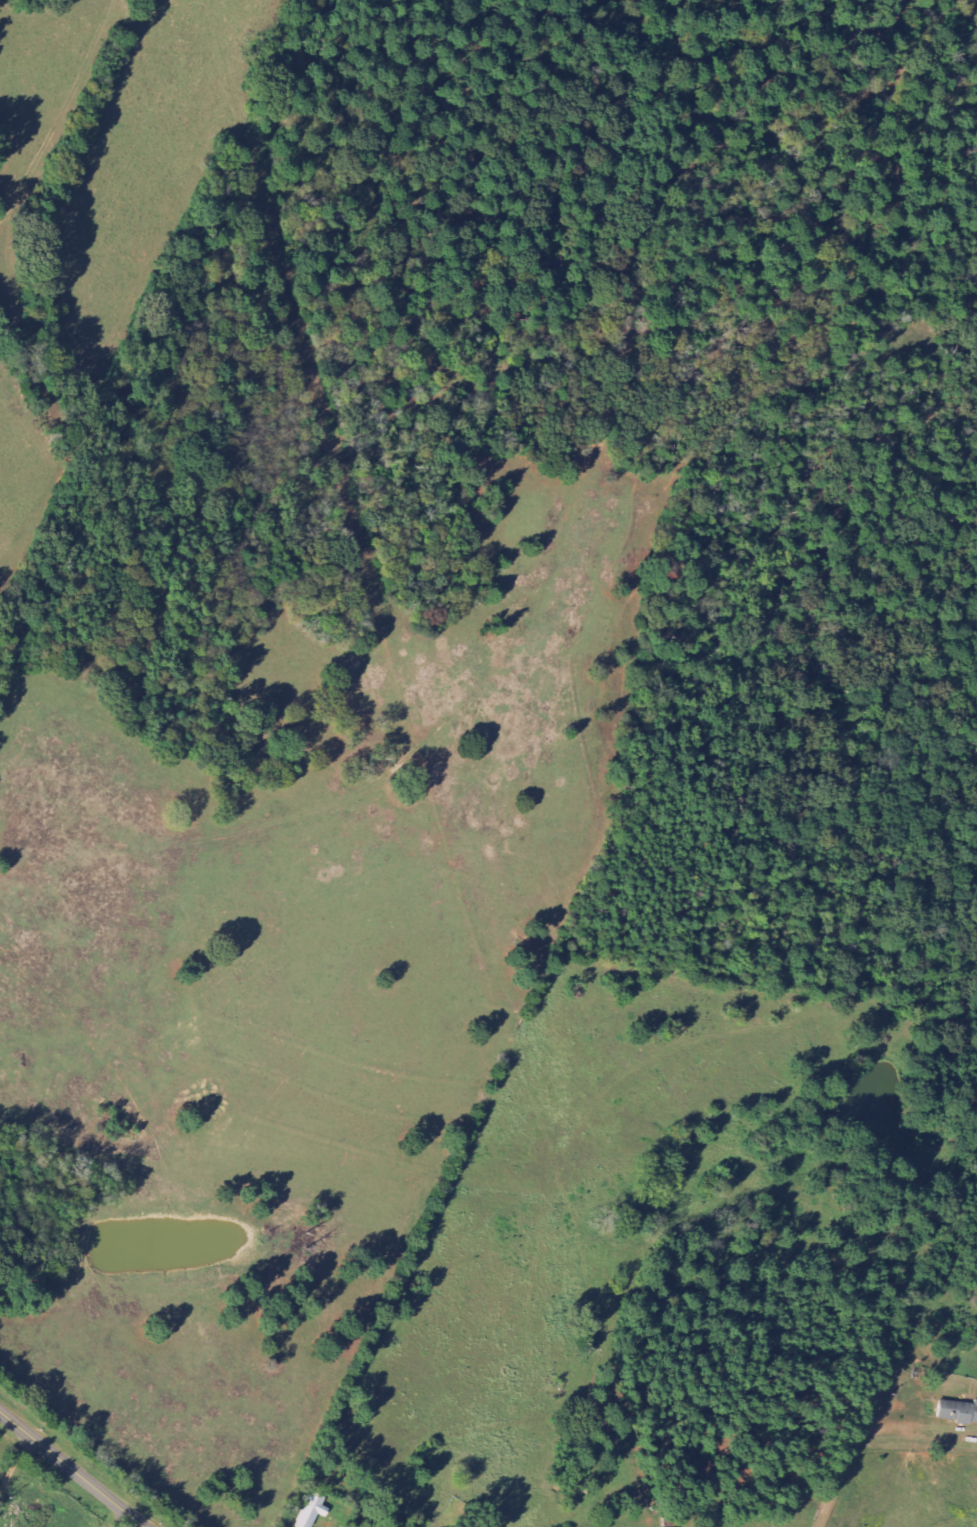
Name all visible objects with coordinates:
building: (959, 1411)
road: (808, 1434)
road: (71, 1469)
building: (316, 1511)

